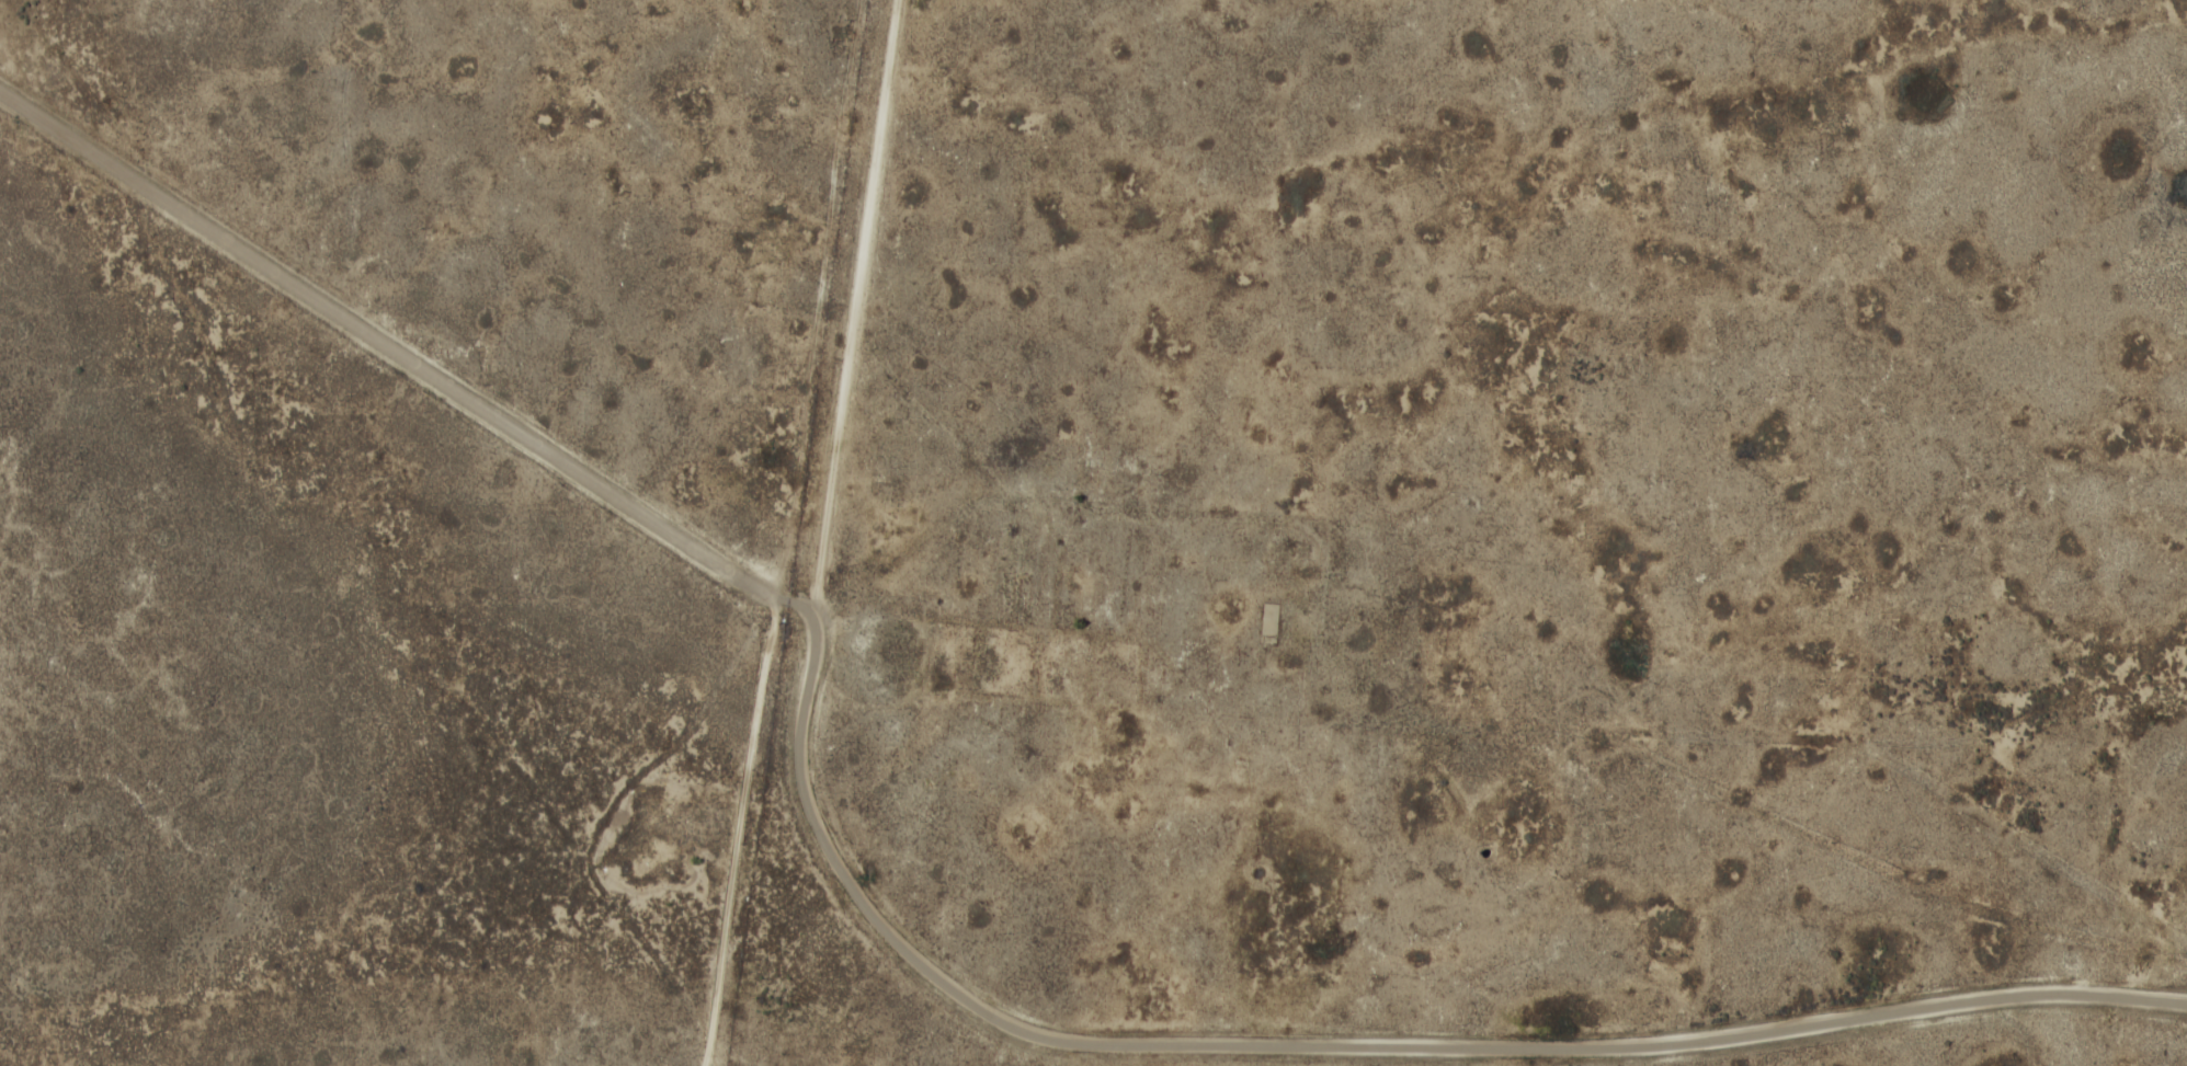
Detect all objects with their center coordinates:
road: (395, 344)
road: (776, 614)
road: (1343, 1043)

